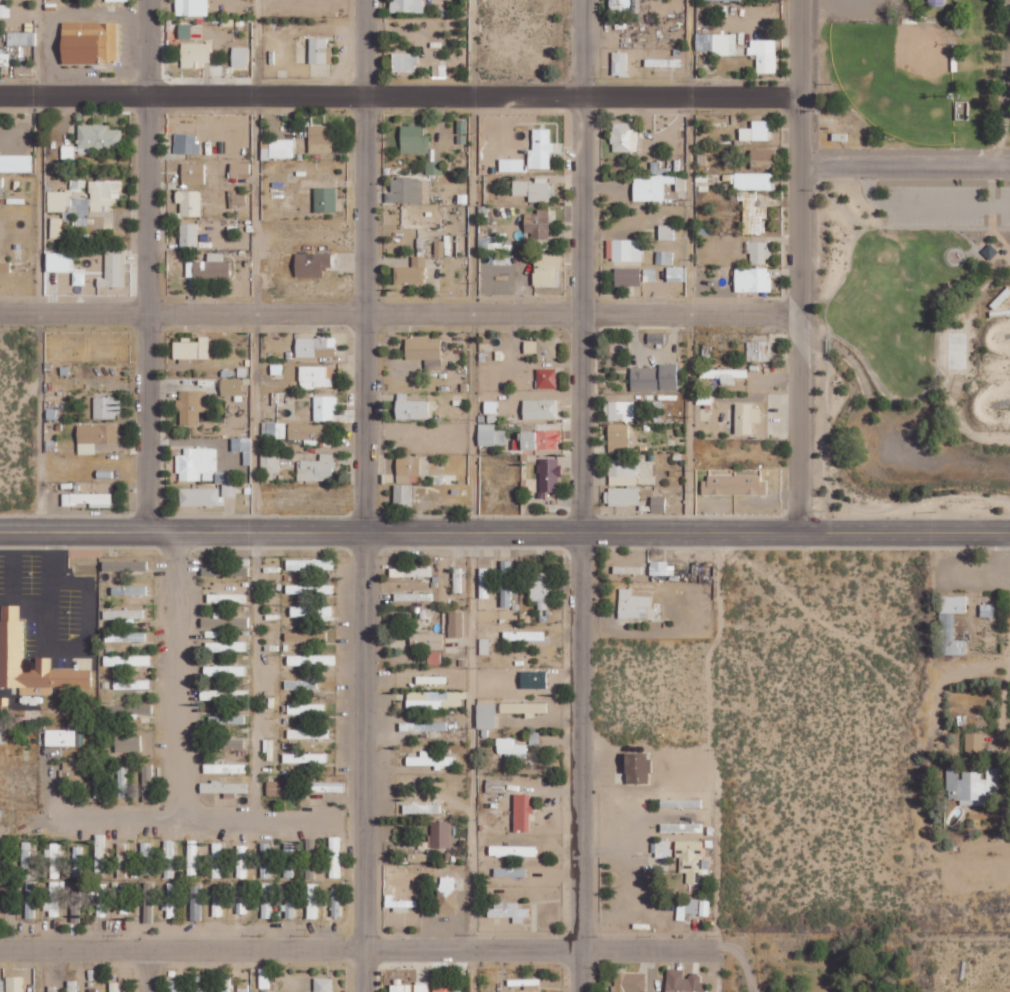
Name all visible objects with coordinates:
building: (115, 0)
building: (728, 0)
building: (407, 6)
building: (624, 6)
building: (191, 7)
building: (4, 10)
building: (183, 31)
building: (21, 38)
building: (88, 42)
building: (716, 43)
building: (320, 50)
building: (195, 54)
building: (763, 54)
building: (239, 56)
building: (4, 58)
building: (404, 61)
building: (619, 63)
building: (438, 72)
park: (896, 75)
road: (399, 94)
building: (755, 131)
building: (625, 136)
building: (97, 138)
building: (320, 138)
building: (413, 139)
building: (186, 143)
building: (541, 144)
building: (277, 148)
building: (67, 152)
building: (762, 157)
building: (15, 163)
building: (511, 165)
building: (433, 167)
road: (903, 168)
building: (239, 169)
building: (192, 173)
building: (753, 181)
building: (655, 185)
building: (0, 186)
building: (534, 189)
building: (404, 190)
building: (236, 198)
building: (324, 199)
building: (84, 201)
building: (189, 202)
building: (752, 213)
building: (537, 225)
building: (56, 228)
building: (666, 232)
building: (188, 234)
building: (439, 249)
building: (624, 249)
building: (758, 252)
building: (664, 257)
building: (58, 261)
building: (311, 264)
road: (147, 265)
building: (4, 266)
road: (256, 266)
road: (689, 266)
road: (794, 266)
road: (41, 267)
building: (208, 267)
building: (545, 269)
building: (113, 270)
building: (411, 272)
building: (650, 274)
building: (676, 274)
building: (627, 276)
building: (78, 278)
building: (751, 279)
road: (397, 313)
building: (655, 337)
building: (315, 346)
building: (540, 347)
building: (191, 348)
building: (424, 351)
building: (758, 351)
building: (723, 374)
building: (315, 376)
building: (653, 377)
building: (546, 378)
building: (230, 387)
building: (190, 406)
building: (106, 407)
building: (324, 408)
building: (410, 408)
building: (539, 409)
building: (619, 410)
building: (745, 418)
building: (273, 430)
building: (307, 431)
building: (490, 435)
building: (94, 437)
building: (618, 438)
building: (540, 439)
building: (242, 448)
building: (269, 462)
building: (203, 468)
building: (316, 469)
building: (407, 469)
building: (623, 471)
building: (548, 476)
building: (733, 485)
road: (366, 495)
building: (402, 495)
road: (471, 495)
road: (580, 495)
building: (198, 496)
building: (621, 496)
building: (86, 498)
building: (657, 504)
road: (504, 534)
building: (124, 564)
building: (310, 564)
building: (627, 569)
building: (225, 570)
building: (667, 570)
building: (410, 572)
building: (457, 579)
building: (483, 582)
building: (505, 583)
building: (309, 588)
building: (128, 589)
building: (541, 589)
building: (413, 596)
building: (226, 597)
building: (633, 604)
building: (987, 609)
building: (312, 611)
building: (123, 613)
building: (224, 622)
building: (455, 623)
building: (951, 624)
building: (522, 635)
building: (125, 636)
building: (305, 636)
building: (11, 638)
building: (426, 640)
building: (484, 645)
building: (226, 646)
building: (433, 658)
building: (126, 660)
building: (311, 660)
building: (224, 670)
building: (533, 678)
building: (431, 679)
building: (131, 684)
building: (300, 684)
building: (224, 694)
building: (435, 699)
building: (129, 708)
building: (524, 708)
building: (307, 709)
building: (486, 715)
building: (226, 719)
building: (423, 726)
building: (307, 733)
building: (60, 737)
building: (128, 742)
building: (226, 742)
building: (974, 742)
building: (510, 747)
building: (304, 757)
building: (429, 760)
building: (637, 766)
building: (224, 767)
building: (71, 773)
building: (98, 781)
building: (122, 781)
building: (147, 782)
building: (495, 785)
building: (971, 785)
building: (324, 786)
building: (223, 787)
building: (281, 787)
building: (681, 803)
building: (525, 811)
building: (681, 827)
building: (441, 834)
building: (661, 848)
building: (512, 850)
building: (100, 853)
building: (334, 857)
building: (146, 858)
building: (169, 858)
building: (192, 858)
building: (54, 859)
building: (121, 859)
building: (217, 859)
building: (287, 859)
building: (26, 860)
building: (241, 860)
building: (691, 860)
building: (263, 865)
building: (510, 871)
building: (446, 895)
building: (125, 898)
building: (30, 899)
building: (101, 899)
building: (241, 899)
building: (54, 900)
building: (172, 900)
building: (267, 900)
building: (290, 900)
building: (313, 900)
building: (76, 901)
building: (195, 901)
building: (217, 901)
building: (336, 901)
building: (148, 902)
building: (399, 904)
building: (691, 909)
building: (508, 911)
road: (359, 949)
road: (740, 962)
road: (37, 970)
road: (148, 970)
road: (253, 970)
building: (226, 982)
building: (628, 982)
building: (683, 982)
building: (201, 983)
building: (14, 984)
building: (323, 984)
building: (71, 985)
building: (421, 987)
building: (401, 988)
building: (444, 989)

